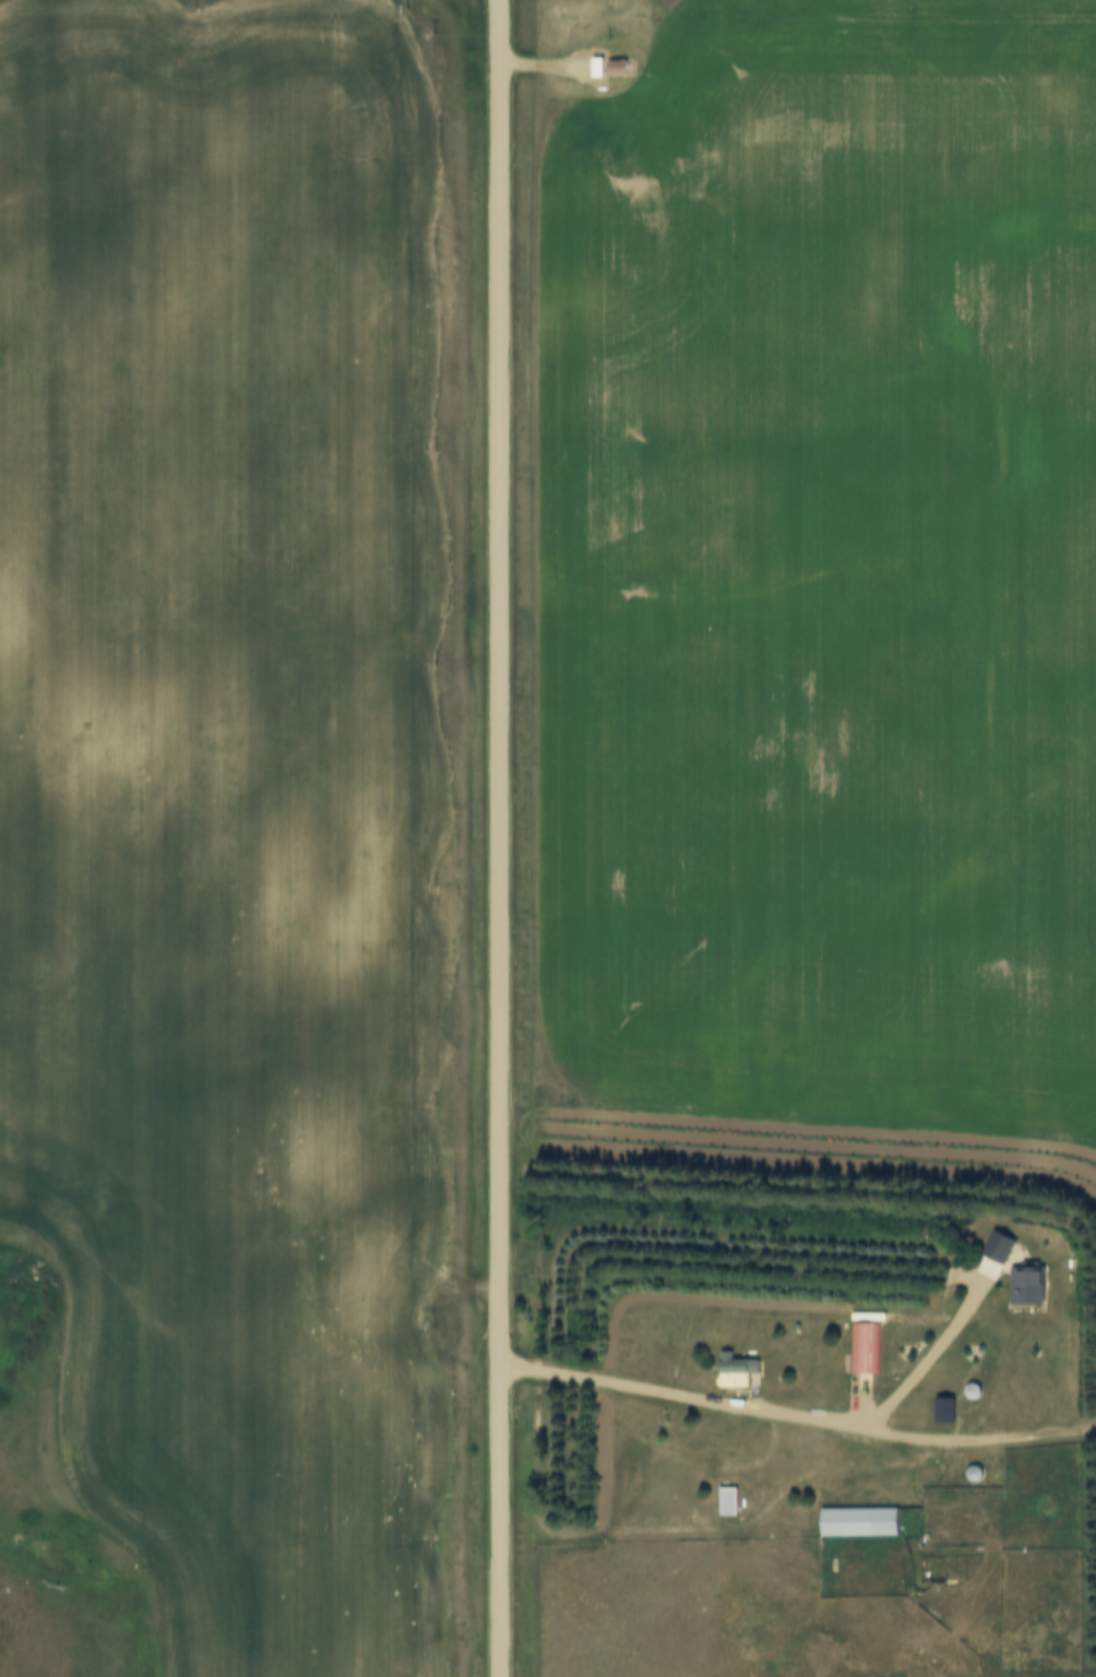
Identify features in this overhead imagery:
building: (616, 67)
road: (498, 838)
building: (863, 1348)
building: (900, 1355)
building: (735, 1370)
road: (727, 1405)
building: (943, 1410)
road: (1026, 1437)
building: (727, 1502)
building: (858, 1521)

